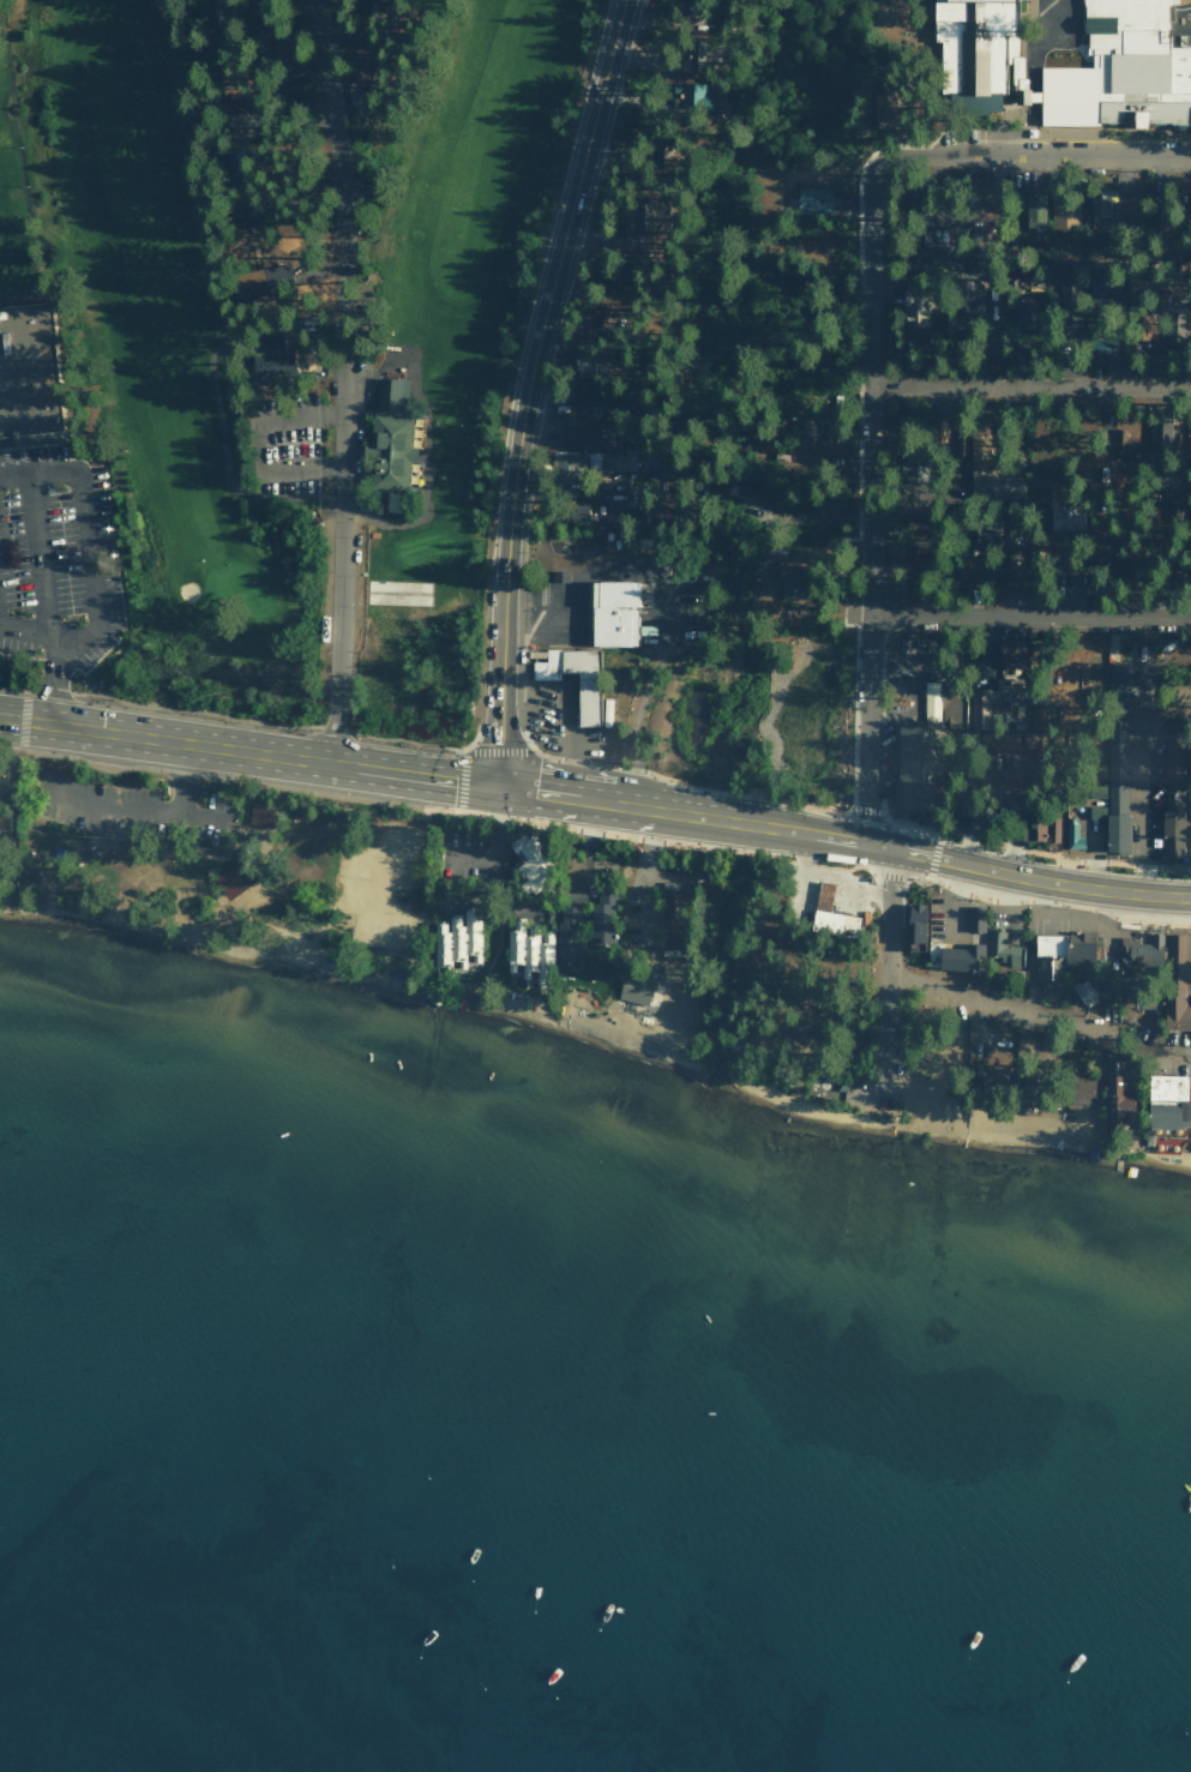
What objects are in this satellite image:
building: (211, 13)
building: (974, 46)
building: (692, 54)
building: (1021, 80)
building: (1125, 84)
building: (697, 95)
building: (236, 124)
road: (1033, 158)
building: (813, 199)
building: (1099, 202)
building: (239, 206)
building: (1033, 211)
building: (1064, 212)
building: (642, 215)
building: (1100, 221)
building: (919, 240)
building: (249, 283)
building: (1169, 283)
building: (915, 304)
building: (596, 311)
building: (1024, 314)
building: (1141, 326)
building: (1174, 328)
building: (1101, 347)
building: (578, 365)
park: (428, 366)
building: (31, 376)
road: (343, 380)
road: (1028, 385)
road: (528, 389)
building: (390, 394)
building: (584, 400)
road: (301, 418)
building: (938, 428)
building: (1161, 432)
building: (811, 433)
building: (581, 437)
building: (1120, 442)
building: (386, 455)
building: (609, 461)
building: (564, 465)
building: (910, 465)
road: (302, 467)
building: (987, 473)
building: (756, 495)
road: (866, 499)
building: (572, 510)
building: (614, 510)
building: (1065, 517)
building: (987, 537)
road: (36, 555)
parking lot: (58, 560)
road: (94, 563)
building: (792, 583)
building: (612, 613)
road: (1028, 614)
building: (1010, 653)
road: (59, 681)
road: (12, 689)
road: (916, 689)
building: (587, 703)
road: (24, 705)
building: (978, 709)
road: (197, 711)
road: (564, 713)
building: (1040, 716)
road: (22, 734)
building: (1005, 739)
building: (1117, 739)
road: (405, 740)
building: (922, 744)
road: (499, 750)
road: (248, 751)
road: (1143, 753)
building: (1174, 762)
building: (1094, 768)
road: (182, 779)
road: (462, 780)
traffic signals: (498, 788)
building: (1095, 789)
building: (1187, 797)
building: (1095, 810)
parking lot: (139, 811)
road: (140, 811)
building: (260, 812)
road: (679, 816)
building: (6, 821)
building: (1034, 828)
building: (1053, 828)
building: (1073, 833)
building: (1118, 833)
building: (1172, 834)
road: (498, 849)
building: (533, 863)
park: (230, 872)
building: (236, 876)
road: (1024, 877)
road: (817, 891)
building: (823, 897)
building: (603, 914)
building: (975, 917)
building: (668, 920)
building: (915, 924)
building: (474, 932)
building: (571, 933)
building: (457, 938)
building: (516, 943)
building: (441, 944)
building: (1003, 948)
building: (1082, 949)
building: (531, 950)
building: (1145, 953)
building: (963, 955)
building: (1049, 955)
building: (547, 956)
road: (885, 975)
building: (1175, 983)
building: (639, 986)
building: (1083, 992)
building: (1141, 998)
road: (1037, 1019)
building: (986, 1076)
building: (826, 1085)
building: (1033, 1086)
building: (1078, 1091)
building: (1167, 1100)
building: (1118, 1101)

